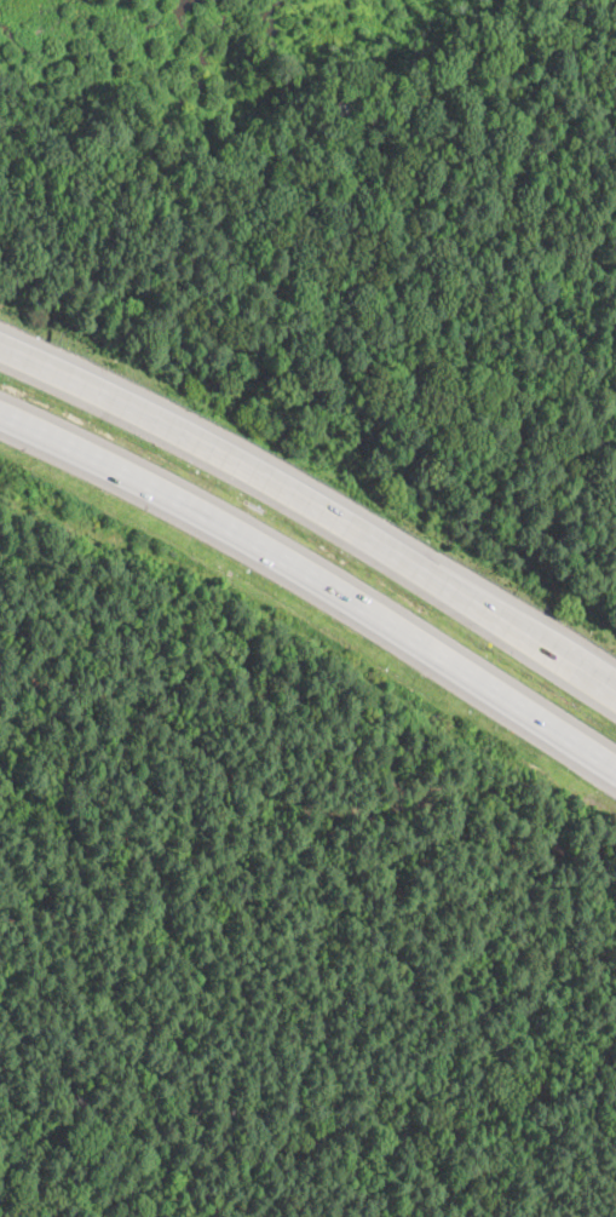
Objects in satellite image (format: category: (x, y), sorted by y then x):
road: (313, 513)
road: (316, 578)

